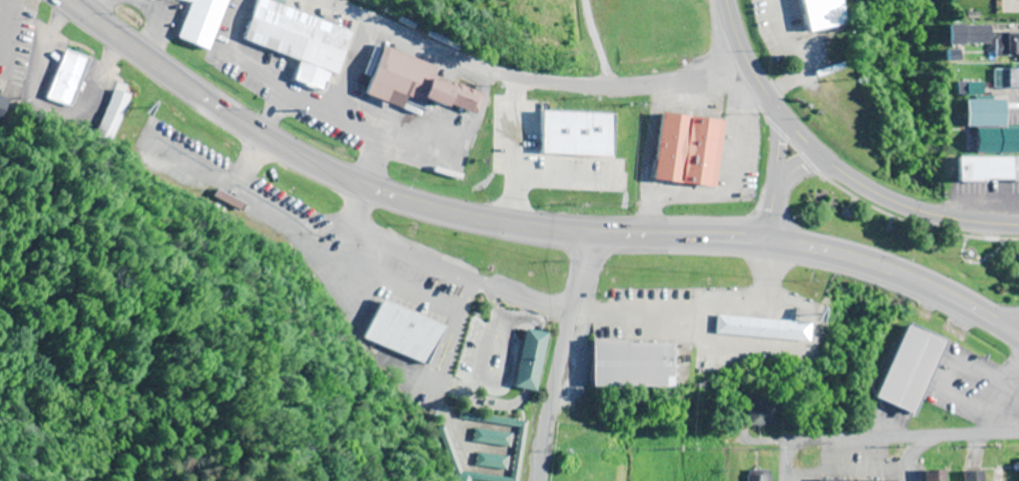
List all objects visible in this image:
building: (821, 15)
building: (203, 22)
building: (984, 38)
building: (304, 45)
road: (739, 48)
road: (533, 78)
building: (67, 79)
building: (420, 85)
building: (974, 90)
road: (771, 103)
building: (112, 113)
building: (991, 127)
building: (499, 140)
building: (570, 145)
road: (778, 148)
building: (690, 151)
road: (797, 166)
building: (987, 170)
road: (886, 198)
road: (774, 209)
road: (452, 212)
park: (908, 237)
fountain: (969, 253)
road: (956, 296)
building: (761, 329)
building: (404, 332)
road: (555, 355)
building: (530, 361)
building: (633, 365)
building: (911, 370)
building: (758, 414)
road: (882, 434)
road: (786, 459)
building: (580, 475)
building: (935, 476)
building: (974, 476)
building: (759, 477)

